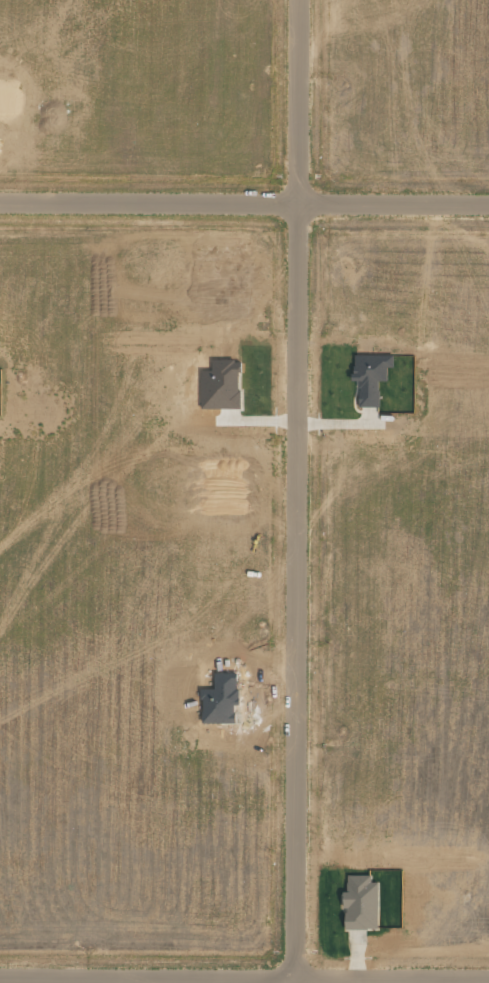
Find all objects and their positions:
road: (244, 205)
building: (369, 377)
building: (221, 385)
road: (297, 488)
road: (244, 976)

